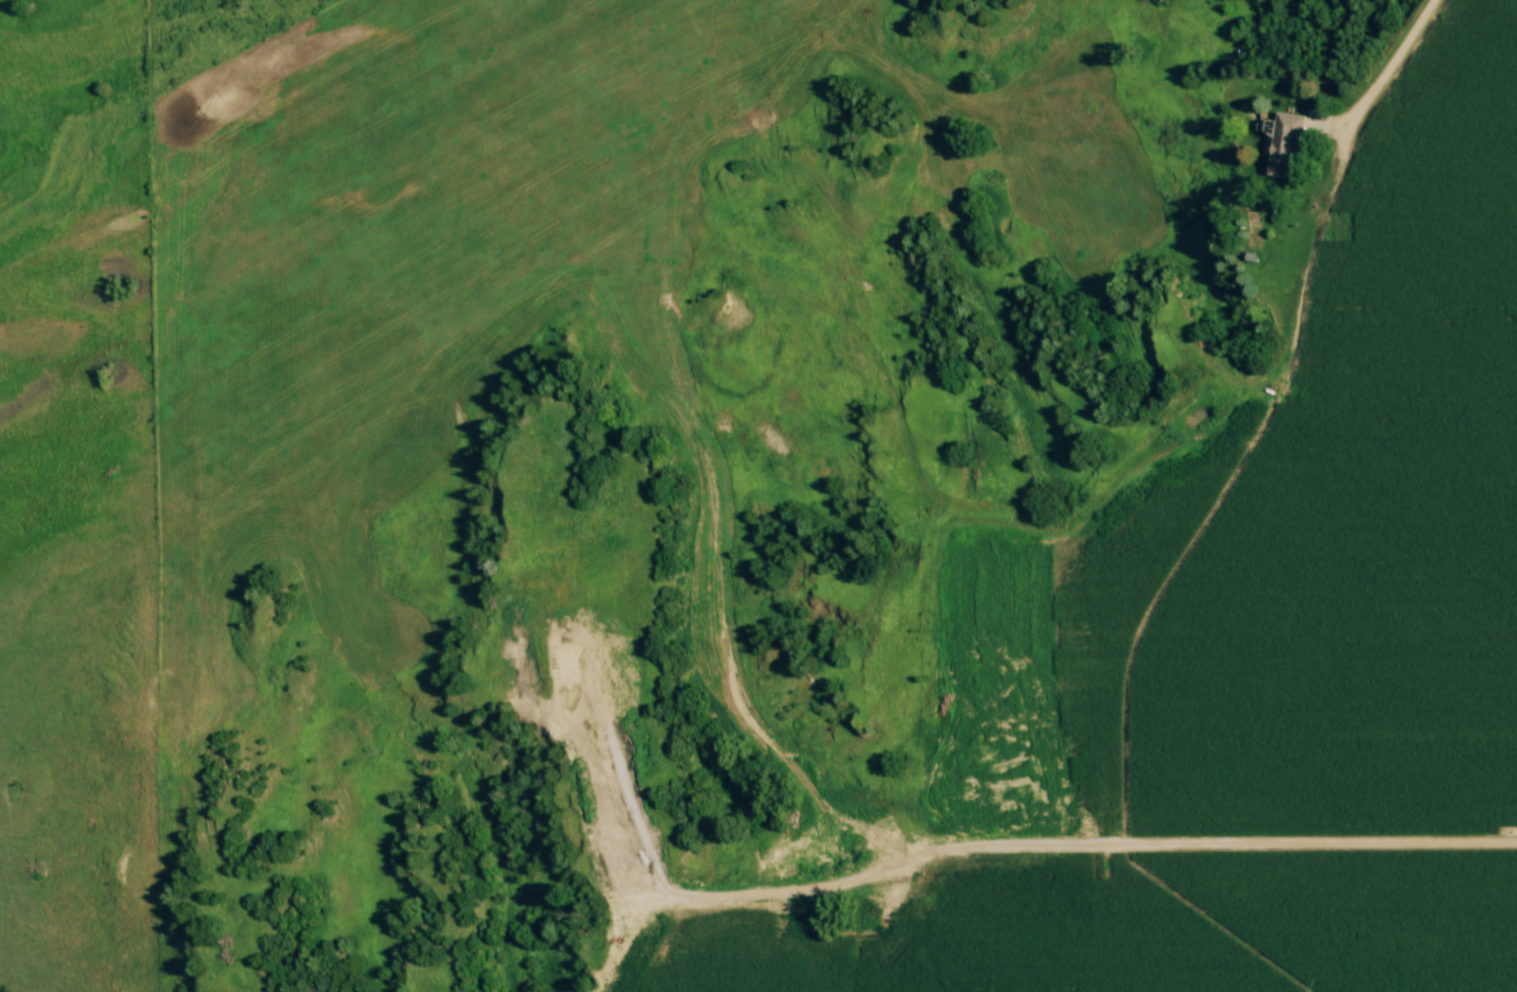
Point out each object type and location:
road: (1387, 71)
building: (1286, 144)

